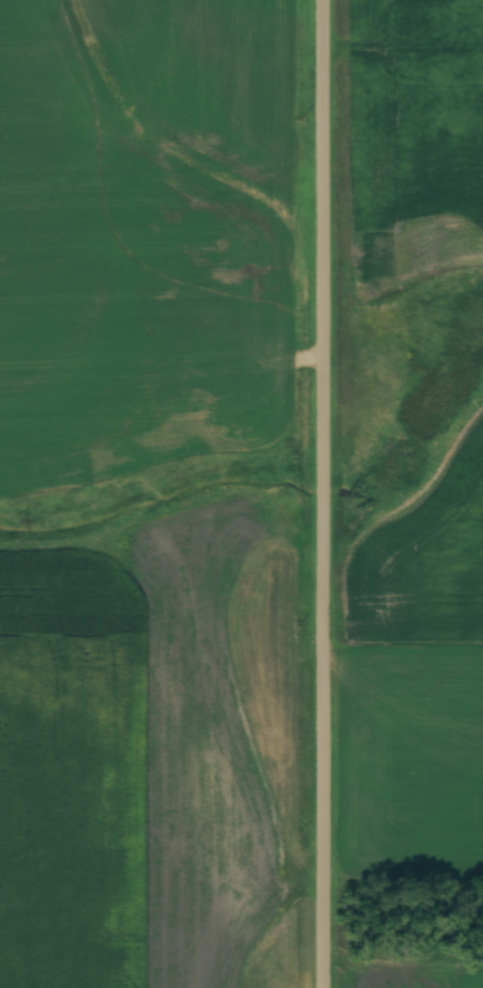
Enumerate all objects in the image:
road: (328, 494)

